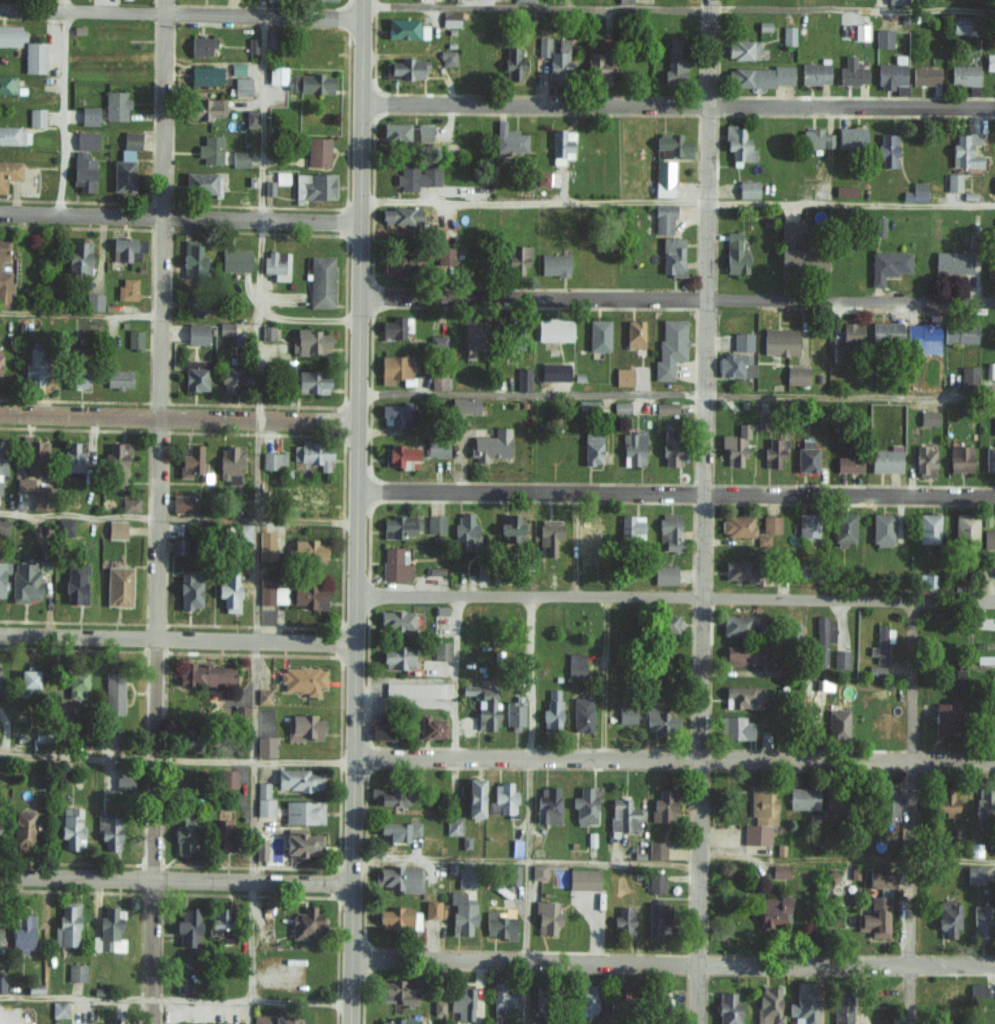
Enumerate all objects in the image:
building: (522, 1)
building: (624, 1)
building: (897, 1)
road: (676, 9)
road: (179, 15)
building: (449, 18)
building: (959, 24)
building: (405, 28)
building: (11, 35)
building: (788, 35)
building: (883, 38)
building: (201, 46)
building: (252, 46)
building: (543, 46)
building: (742, 49)
building: (33, 57)
building: (447, 57)
building: (674, 58)
building: (558, 61)
building: (989, 61)
building: (513, 63)
building: (597, 65)
building: (408, 68)
building: (851, 72)
building: (814, 73)
building: (276, 74)
building: (890, 74)
building: (963, 74)
building: (205, 75)
building: (925, 75)
building: (758, 76)
building: (308, 82)
building: (7, 83)
building: (241, 85)
road: (675, 103)
building: (115, 105)
road: (62, 107)
building: (204, 108)
building: (88, 115)
building: (36, 116)
building: (251, 117)
building: (406, 132)
building: (851, 136)
building: (816, 138)
building: (509, 139)
building: (86, 140)
building: (130, 140)
building: (738, 143)
building: (673, 144)
building: (561, 145)
building: (209, 148)
building: (887, 149)
building: (965, 149)
building: (318, 151)
building: (239, 158)
building: (82, 171)
building: (9, 172)
building: (121, 175)
building: (417, 175)
building: (542, 177)
building: (663, 178)
building: (953, 182)
building: (202, 183)
building: (314, 186)
building: (748, 189)
building: (845, 191)
building: (915, 192)
road: (675, 207)
building: (400, 215)
road: (177, 218)
building: (663, 218)
building: (879, 225)
building: (789, 233)
building: (126, 248)
building: (3, 249)
building: (735, 253)
building: (444, 255)
building: (672, 255)
building: (191, 256)
building: (78, 257)
building: (802, 258)
building: (235, 260)
building: (517, 260)
building: (276, 262)
building: (952, 262)
building: (554, 264)
building: (888, 265)
building: (990, 265)
road: (100, 266)
building: (393, 266)
building: (320, 281)
building: (5, 288)
building: (127, 288)
road: (674, 300)
building: (93, 301)
building: (194, 305)
road: (81, 315)
road: (306, 321)
building: (395, 328)
building: (554, 329)
building: (886, 331)
building: (267, 332)
building: (851, 332)
building: (959, 332)
building: (196, 333)
building: (634, 333)
building: (473, 334)
building: (598, 335)
building: (924, 337)
building: (134, 339)
building: (437, 340)
building: (309, 341)
building: (741, 341)
building: (780, 341)
building: (670, 347)
building: (836, 353)
building: (34, 365)
building: (734, 365)
building: (394, 367)
building: (553, 371)
building: (76, 374)
building: (195, 375)
building: (797, 375)
building: (623, 376)
building: (969, 376)
building: (233, 377)
building: (118, 378)
building: (522, 378)
building: (994, 378)
building: (311, 381)
building: (437, 381)
road: (674, 398)
building: (464, 404)
building: (621, 407)
building: (666, 408)
building: (398, 413)
building: (929, 417)
road: (176, 418)
building: (994, 426)
building: (491, 445)
building: (735, 445)
building: (437, 447)
building: (670, 447)
building: (592, 448)
building: (633, 449)
building: (773, 452)
building: (313, 453)
building: (399, 454)
building: (31, 455)
building: (806, 455)
building: (2, 456)
building: (72, 456)
building: (989, 458)
building: (960, 459)
building: (273, 460)
building: (886, 460)
building: (925, 460)
building: (117, 461)
building: (191, 462)
building: (229, 464)
building: (849, 464)
building: (23, 484)
building: (0, 487)
road: (673, 495)
building: (301, 497)
building: (181, 502)
building: (129, 504)
road: (160, 511)
road: (253, 511)
road: (353, 511)
road: (705, 512)
road: (176, 518)
building: (435, 524)
building: (771, 524)
building: (631, 525)
building: (737, 525)
building: (807, 525)
building: (4, 526)
building: (399, 526)
building: (64, 527)
building: (843, 527)
building: (928, 528)
building: (115, 529)
building: (509, 529)
building: (881, 529)
building: (965, 529)
building: (465, 531)
building: (669, 531)
building: (241, 532)
building: (549, 535)
building: (988, 539)
building: (266, 545)
building: (177, 546)
building: (307, 550)
building: (394, 565)
building: (739, 570)
building: (994, 570)
building: (664, 574)
building: (25, 581)
building: (74, 583)
building: (1, 585)
building: (117, 586)
building: (189, 590)
building: (270, 591)
building: (228, 592)
building: (308, 596)
road: (673, 597)
building: (396, 621)
building: (670, 624)
building: (736, 624)
building: (793, 630)
road: (175, 636)
building: (823, 639)
building: (881, 643)
building: (441, 650)
building: (742, 654)
building: (397, 658)
building: (840, 659)
building: (575, 665)
building: (770, 669)
building: (204, 674)
road: (455, 676)
road: (606, 677)
building: (959, 679)
building: (302, 680)
building: (27, 682)
building: (76, 684)
building: (414, 690)
building: (113, 693)
building: (263, 695)
building: (743, 697)
building: (483, 706)
building: (551, 710)
building: (240, 713)
building: (582, 714)
building: (626, 714)
building: (513, 715)
building: (945, 719)
building: (658, 720)
building: (837, 724)
building: (303, 727)
building: (431, 727)
building: (734, 728)
building: (186, 737)
building: (265, 746)
road: (672, 757)
road: (175, 759)
building: (227, 778)
building: (297, 780)
building: (123, 783)
building: (388, 797)
building: (804, 797)
building: (473, 798)
building: (834, 799)
building: (263, 800)
building: (502, 800)
building: (985, 802)
building: (888, 803)
building: (945, 803)
building: (547, 805)
building: (585, 805)
building: (663, 806)
road: (531, 810)
road: (910, 811)
building: (303, 812)
building: (625, 813)
building: (760, 817)
building: (453, 825)
building: (70, 827)
building: (22, 828)
building: (397, 831)
building: (109, 832)
building: (183, 835)
building: (221, 835)
building: (301, 845)
building: (261, 847)
building: (974, 849)
building: (656, 850)
road: (672, 860)
building: (779, 871)
building: (538, 872)
building: (512, 874)
building: (975, 874)
road: (174, 878)
building: (398, 878)
building: (465, 878)
building: (583, 879)
building: (879, 879)
building: (655, 883)
building: (433, 910)
building: (774, 911)
building: (461, 913)
building: (546, 918)
building: (875, 918)
building: (948, 918)
building: (398, 919)
building: (657, 919)
building: (623, 920)
building: (982, 921)
building: (305, 923)
building: (220, 925)
building: (66, 926)
building: (498, 926)
building: (187, 927)
building: (107, 932)
building: (22, 933)
road: (671, 961)
building: (76, 972)
building: (2, 982)
building: (619, 988)
building: (976, 989)
building: (398, 991)
building: (661, 995)
building: (502, 996)
building: (587, 998)
road: (174, 1000)
building: (461, 1001)
building: (804, 1003)
building: (768, 1004)
building: (437, 1006)
building: (59, 1008)
building: (727, 1008)
building: (841, 1009)
building: (276, 1018)
building: (395, 1020)

